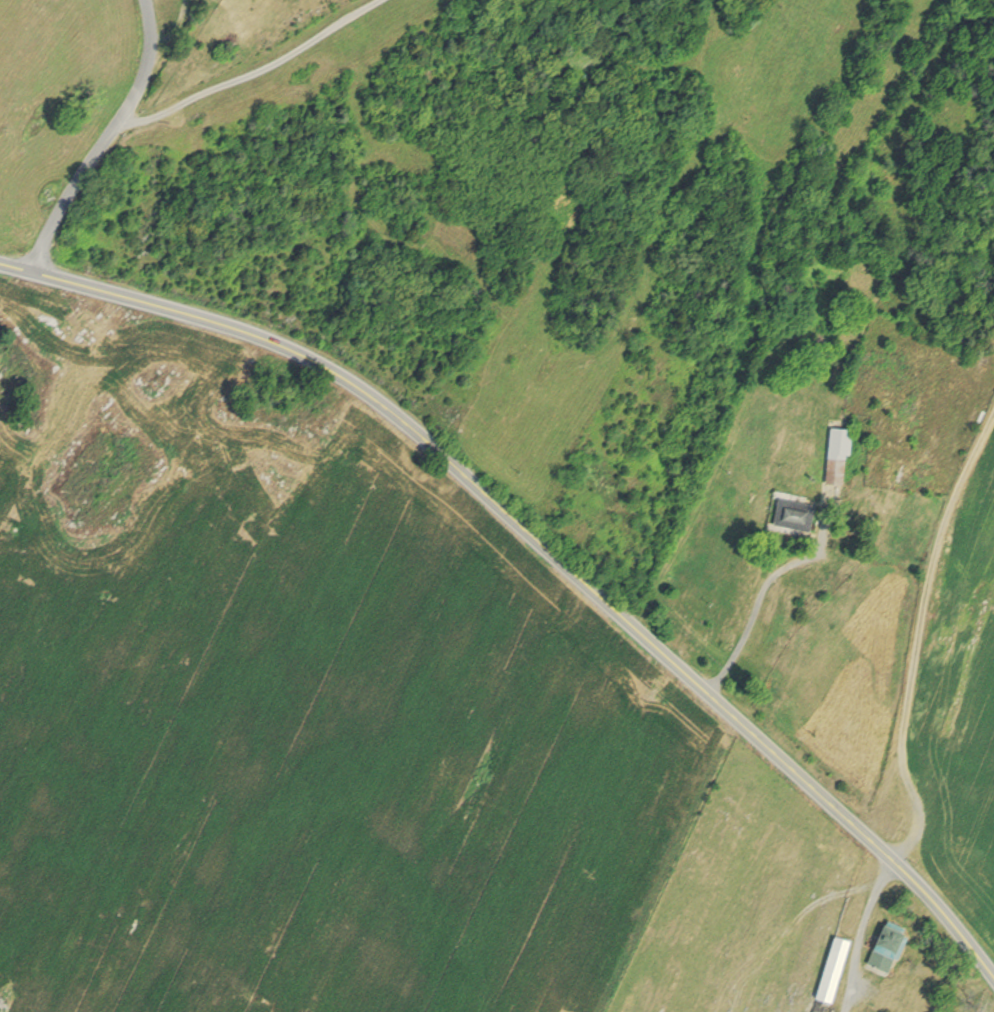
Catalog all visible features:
road: (176, 29)
road: (149, 63)
road: (258, 75)
road: (71, 192)
road: (486, 494)
road: (754, 614)
road: (920, 619)
road: (947, 913)
road: (863, 933)

